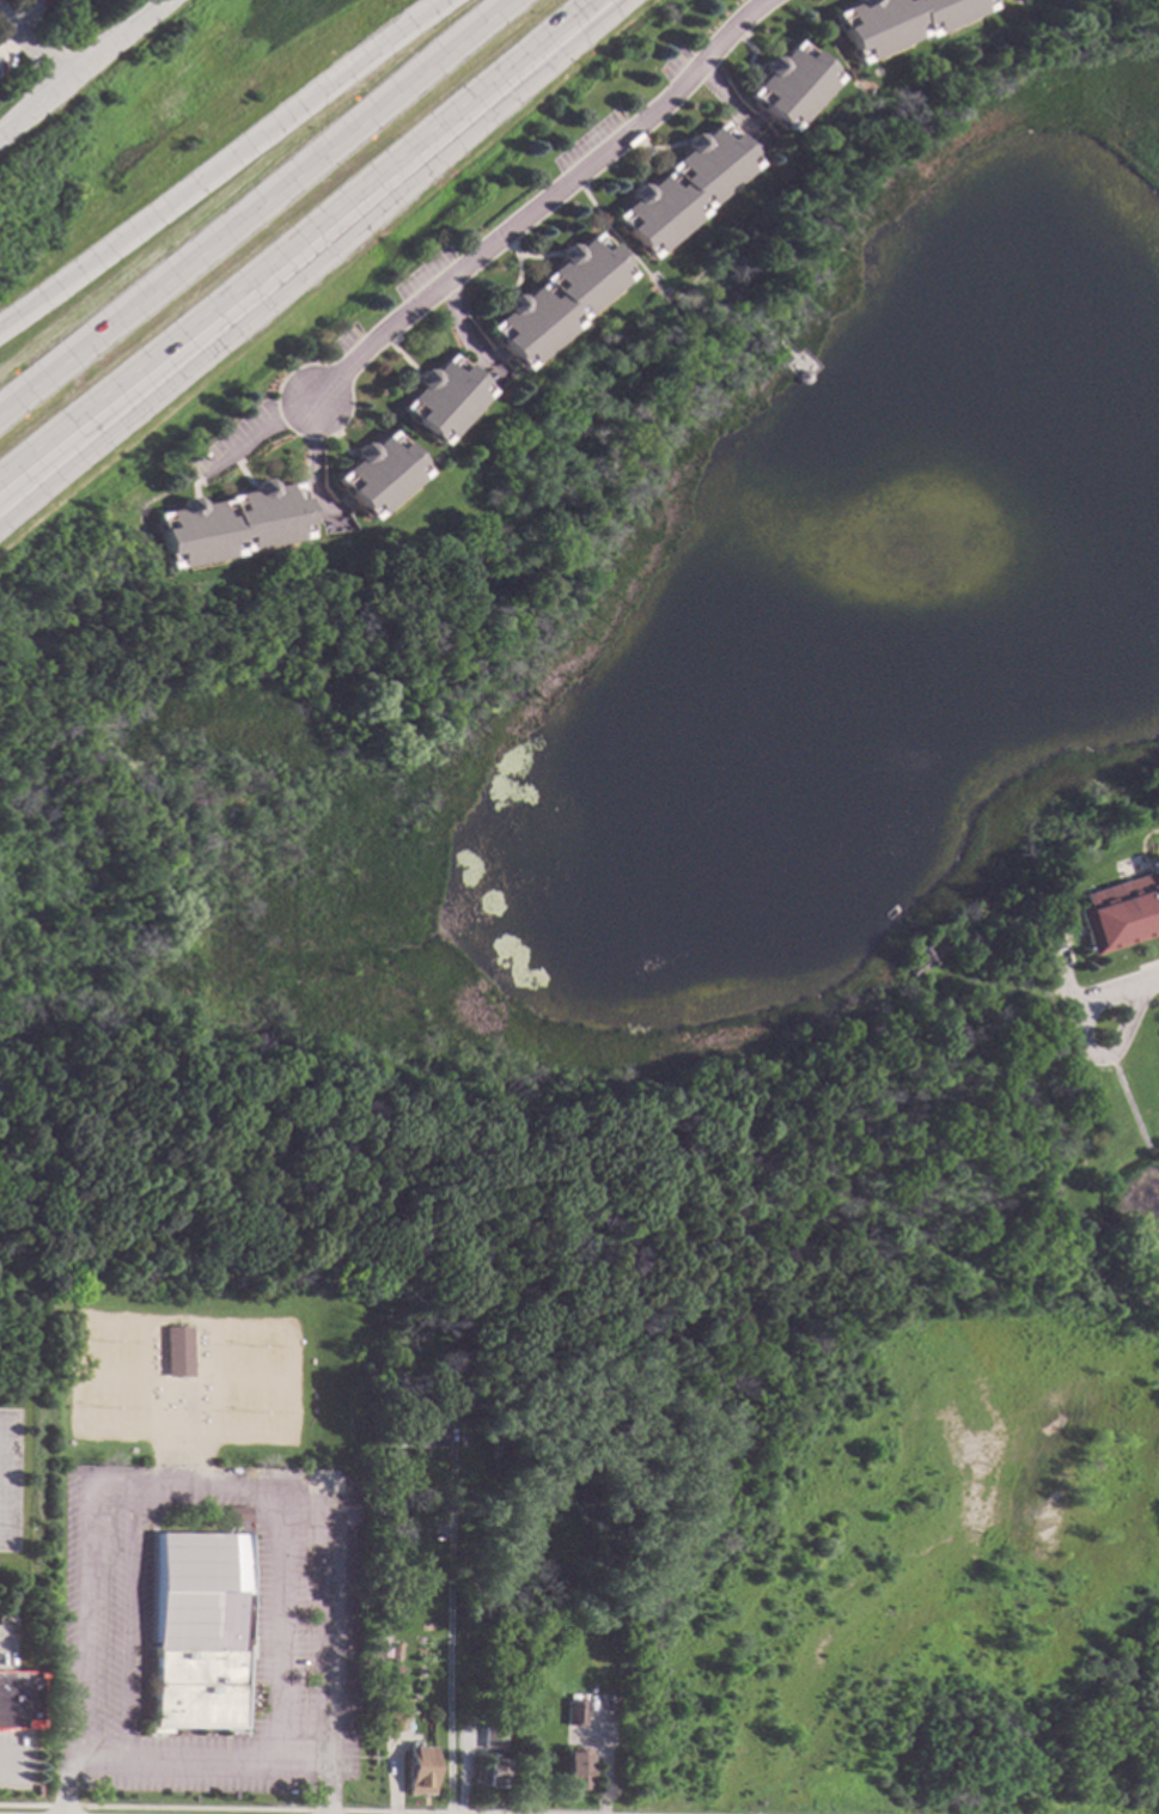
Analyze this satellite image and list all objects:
building: (66, 2)
building: (897, 22)
road: (29, 49)
road: (81, 65)
road: (419, 77)
building: (788, 84)
road: (224, 165)
building: (681, 188)
road: (538, 206)
road: (304, 243)
road: (161, 286)
road: (262, 298)
building: (555, 298)
building: (439, 398)
road: (262, 436)
building: (376, 474)
building: (228, 523)
building: (1120, 911)
building: (920, 960)
road: (1148, 980)
road: (1082, 1048)
park: (92, 1347)
park: (128, 1349)
park: (234, 1350)
park: (273, 1351)
building: (181, 1352)
building: (451, 1368)
park: (90, 1408)
park: (129, 1410)
park: (233, 1410)
park: (272, 1410)
building: (426, 1429)
parking lot: (8, 1478)
road: (109, 1481)
building: (232, 1512)
road: (272, 1623)
road: (449, 1626)
building: (194, 1630)
road: (328, 1645)
building: (392, 1650)
building: (395, 1669)
building: (19, 1700)
building: (574, 1711)
building: (391, 1721)
building: (489, 1737)
building: (419, 1769)
building: (493, 1769)
building: (575, 1770)
road: (66, 1780)
road: (328, 1786)

